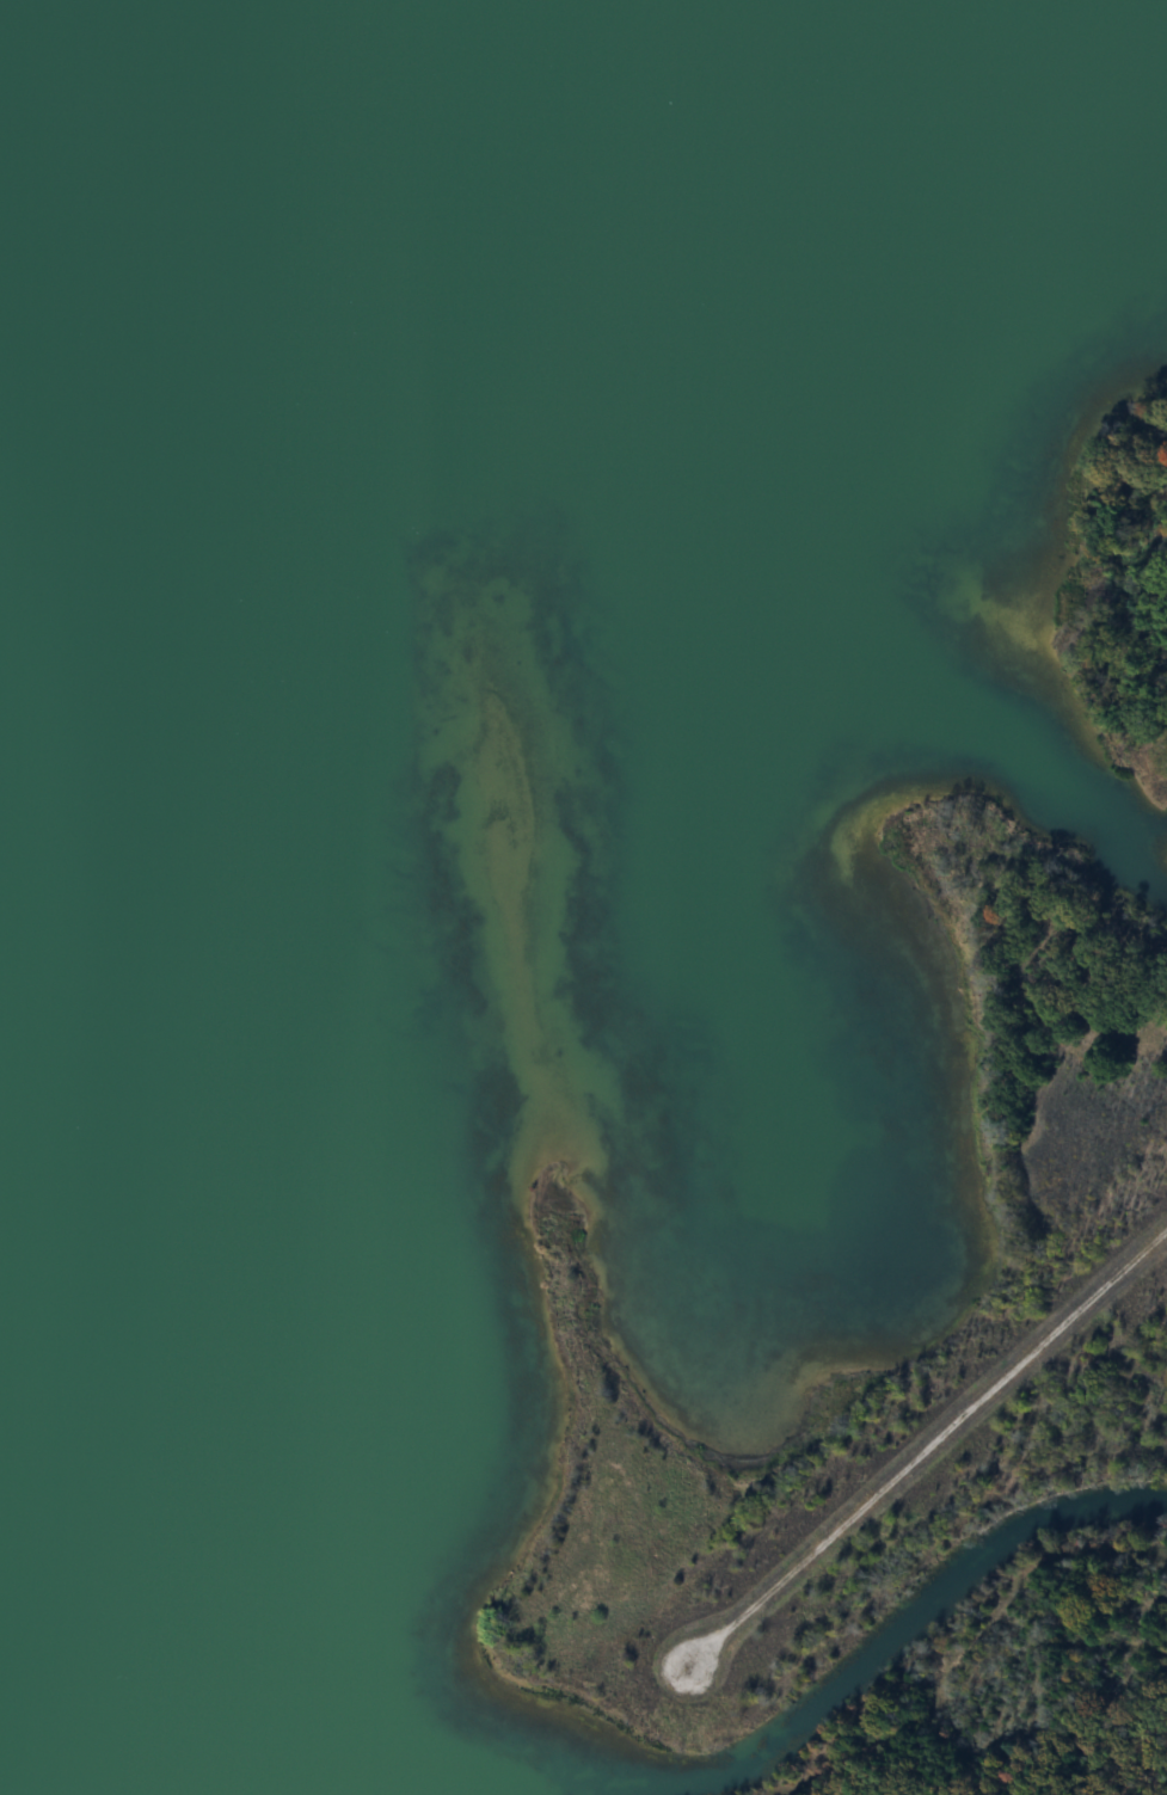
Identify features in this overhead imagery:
road: (927, 1446)

